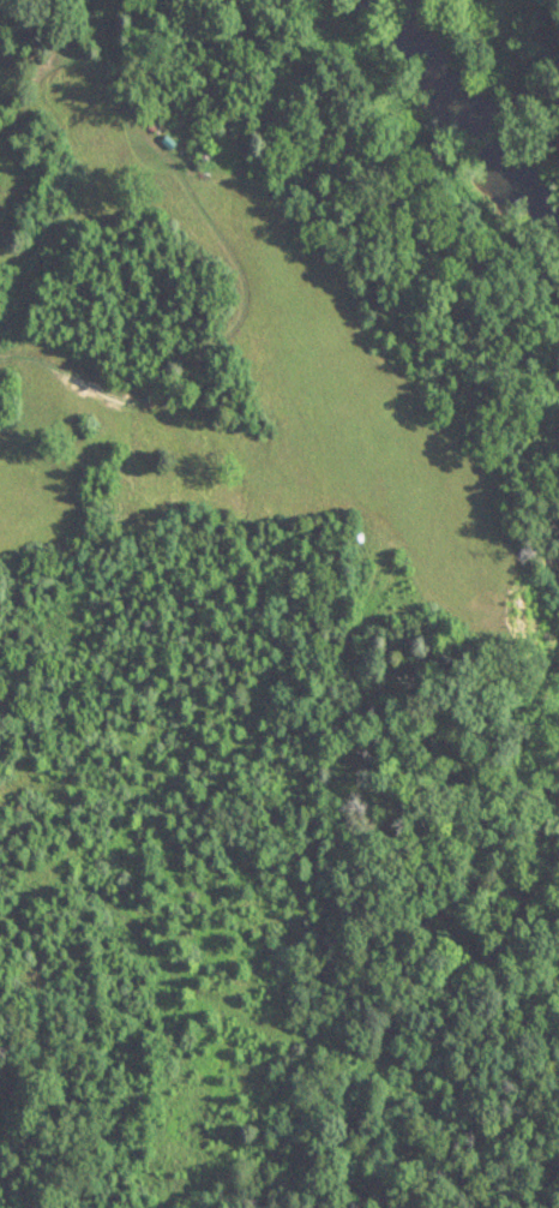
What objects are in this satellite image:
road: (223, 265)

